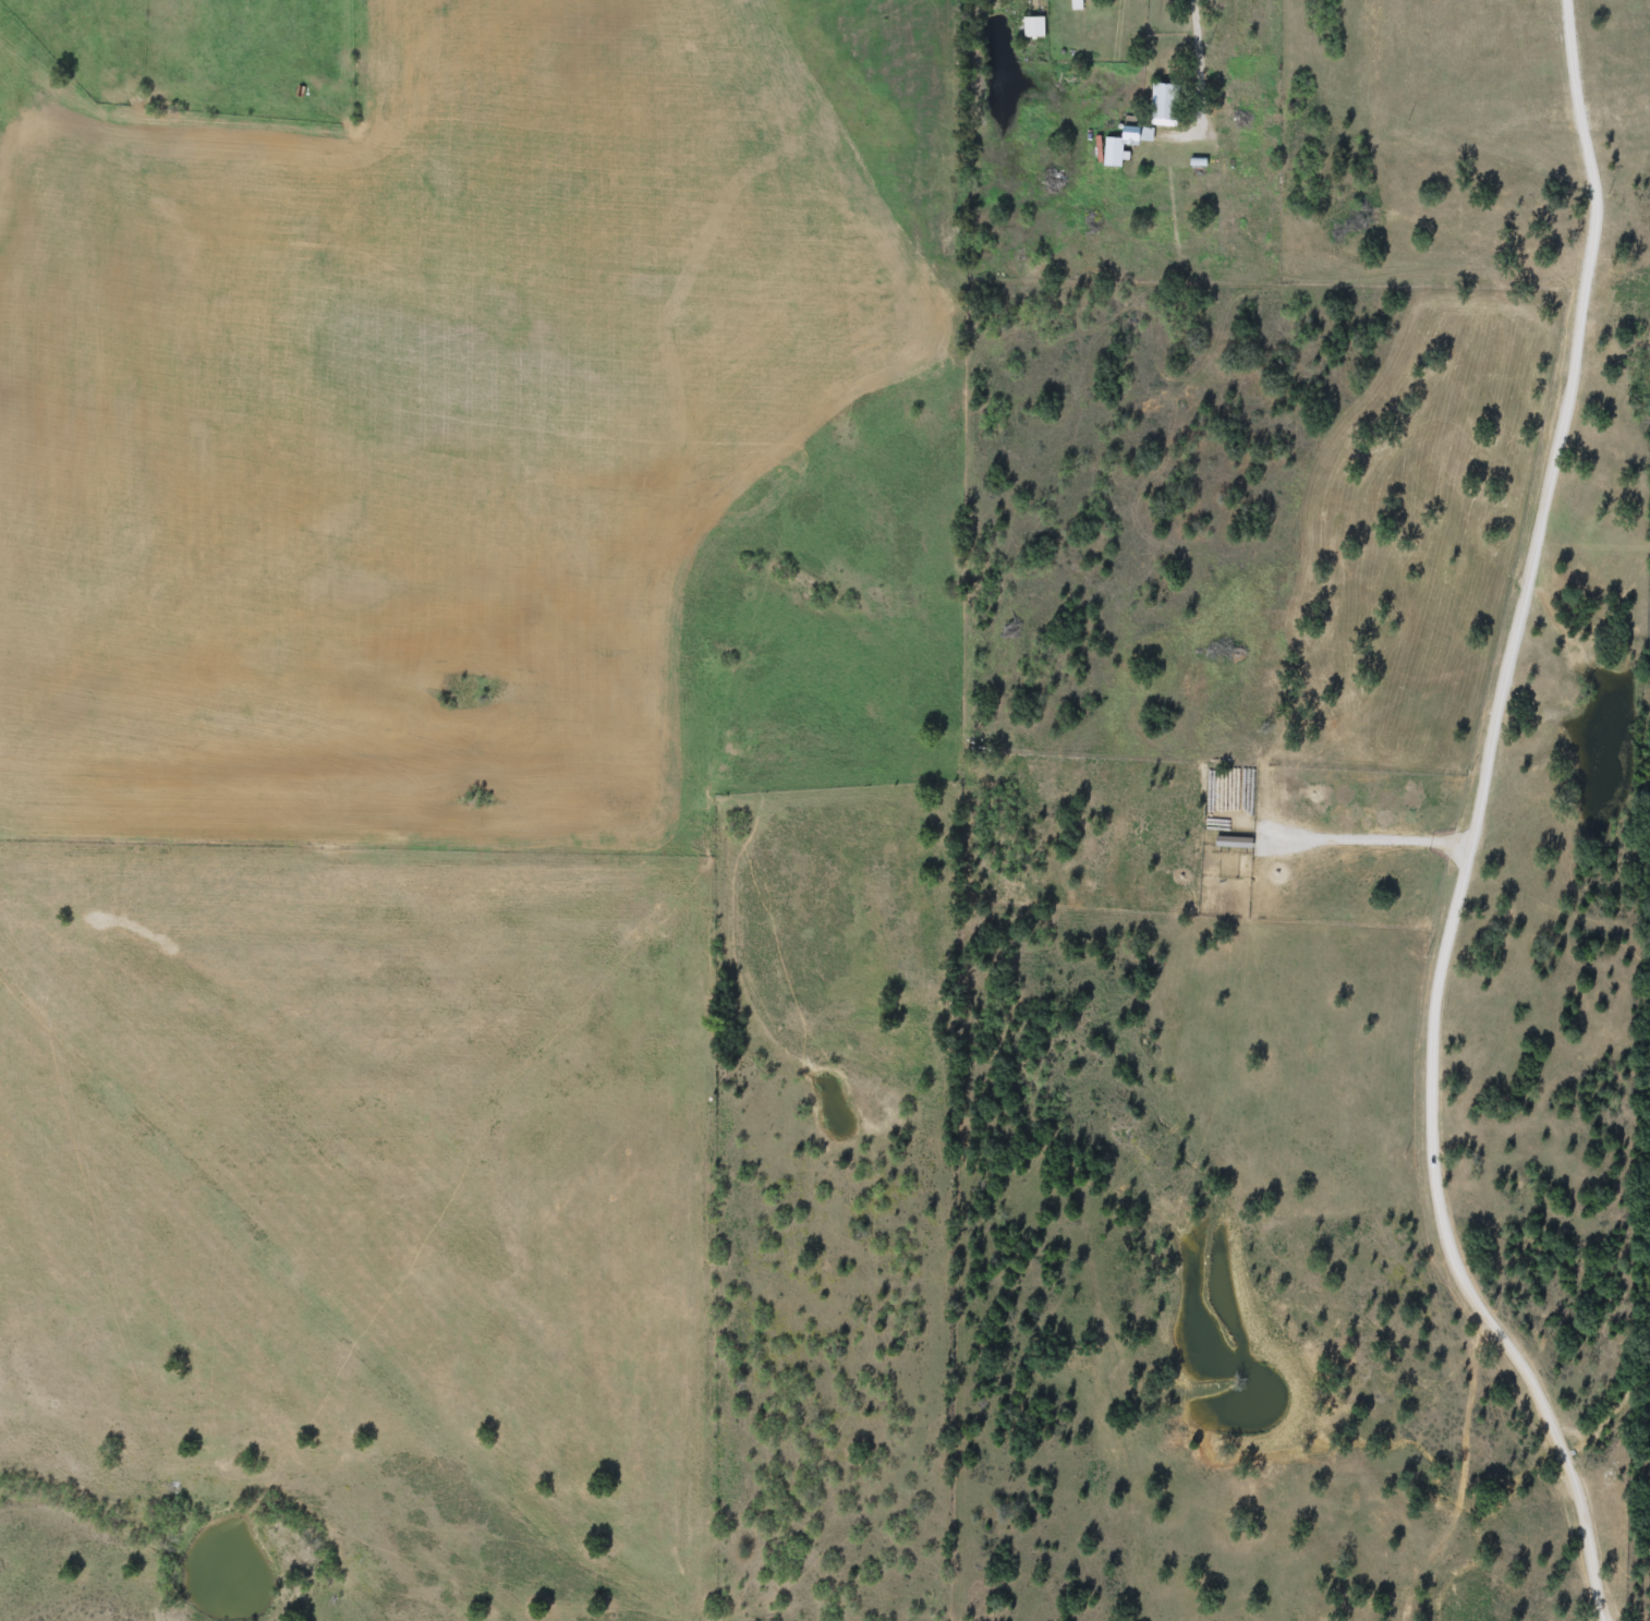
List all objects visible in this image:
building: (1033, 27)
road: (96, 100)
building: (1162, 104)
building: (1138, 134)
building: (1113, 152)
road: (1294, 269)
road: (1476, 823)
road: (1367, 839)

